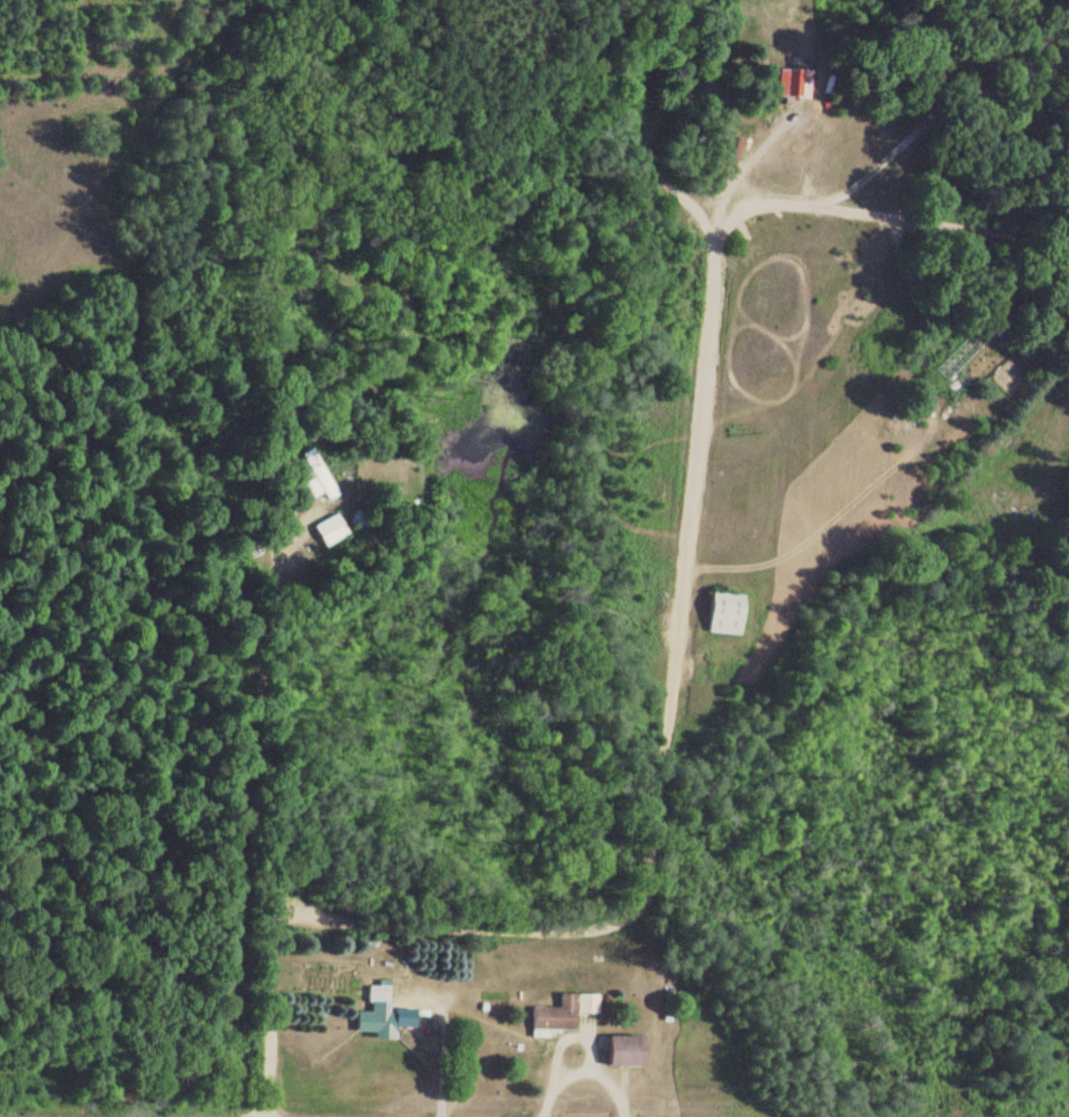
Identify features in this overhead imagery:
building: (789, 86)
road: (628, 126)
building: (320, 484)
road: (671, 573)
building: (723, 613)
building: (563, 1014)
building: (378, 1015)
road: (267, 1018)
building: (624, 1053)

